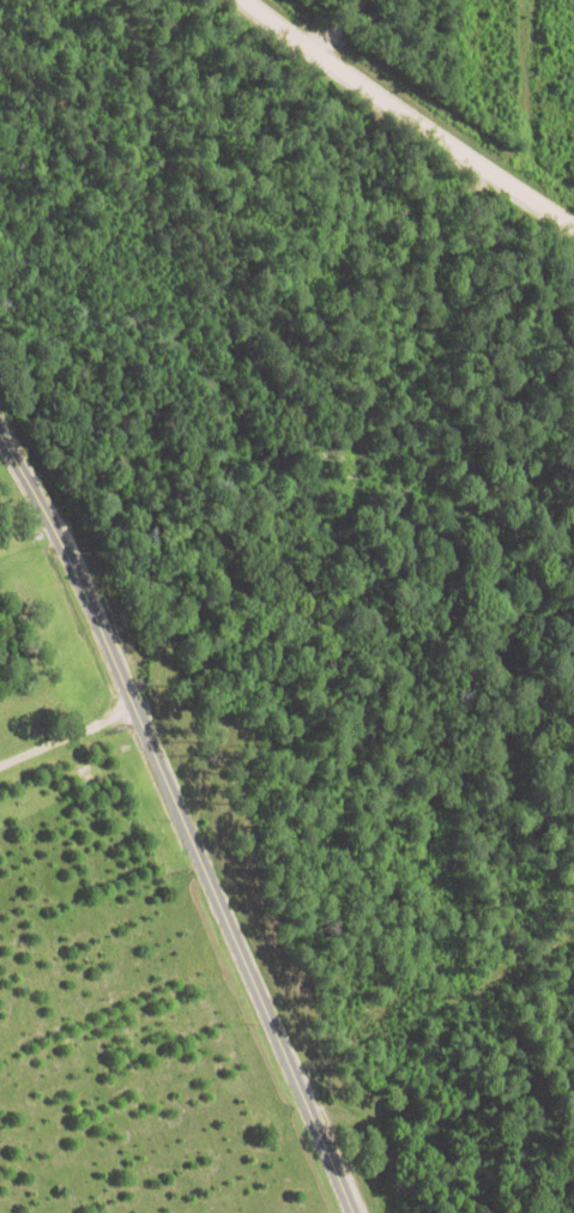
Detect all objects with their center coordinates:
road: (342, 29)
road: (406, 116)
park: (10, 513)
road: (71, 565)
road: (67, 736)
road: (243, 960)
road: (4, 1203)

